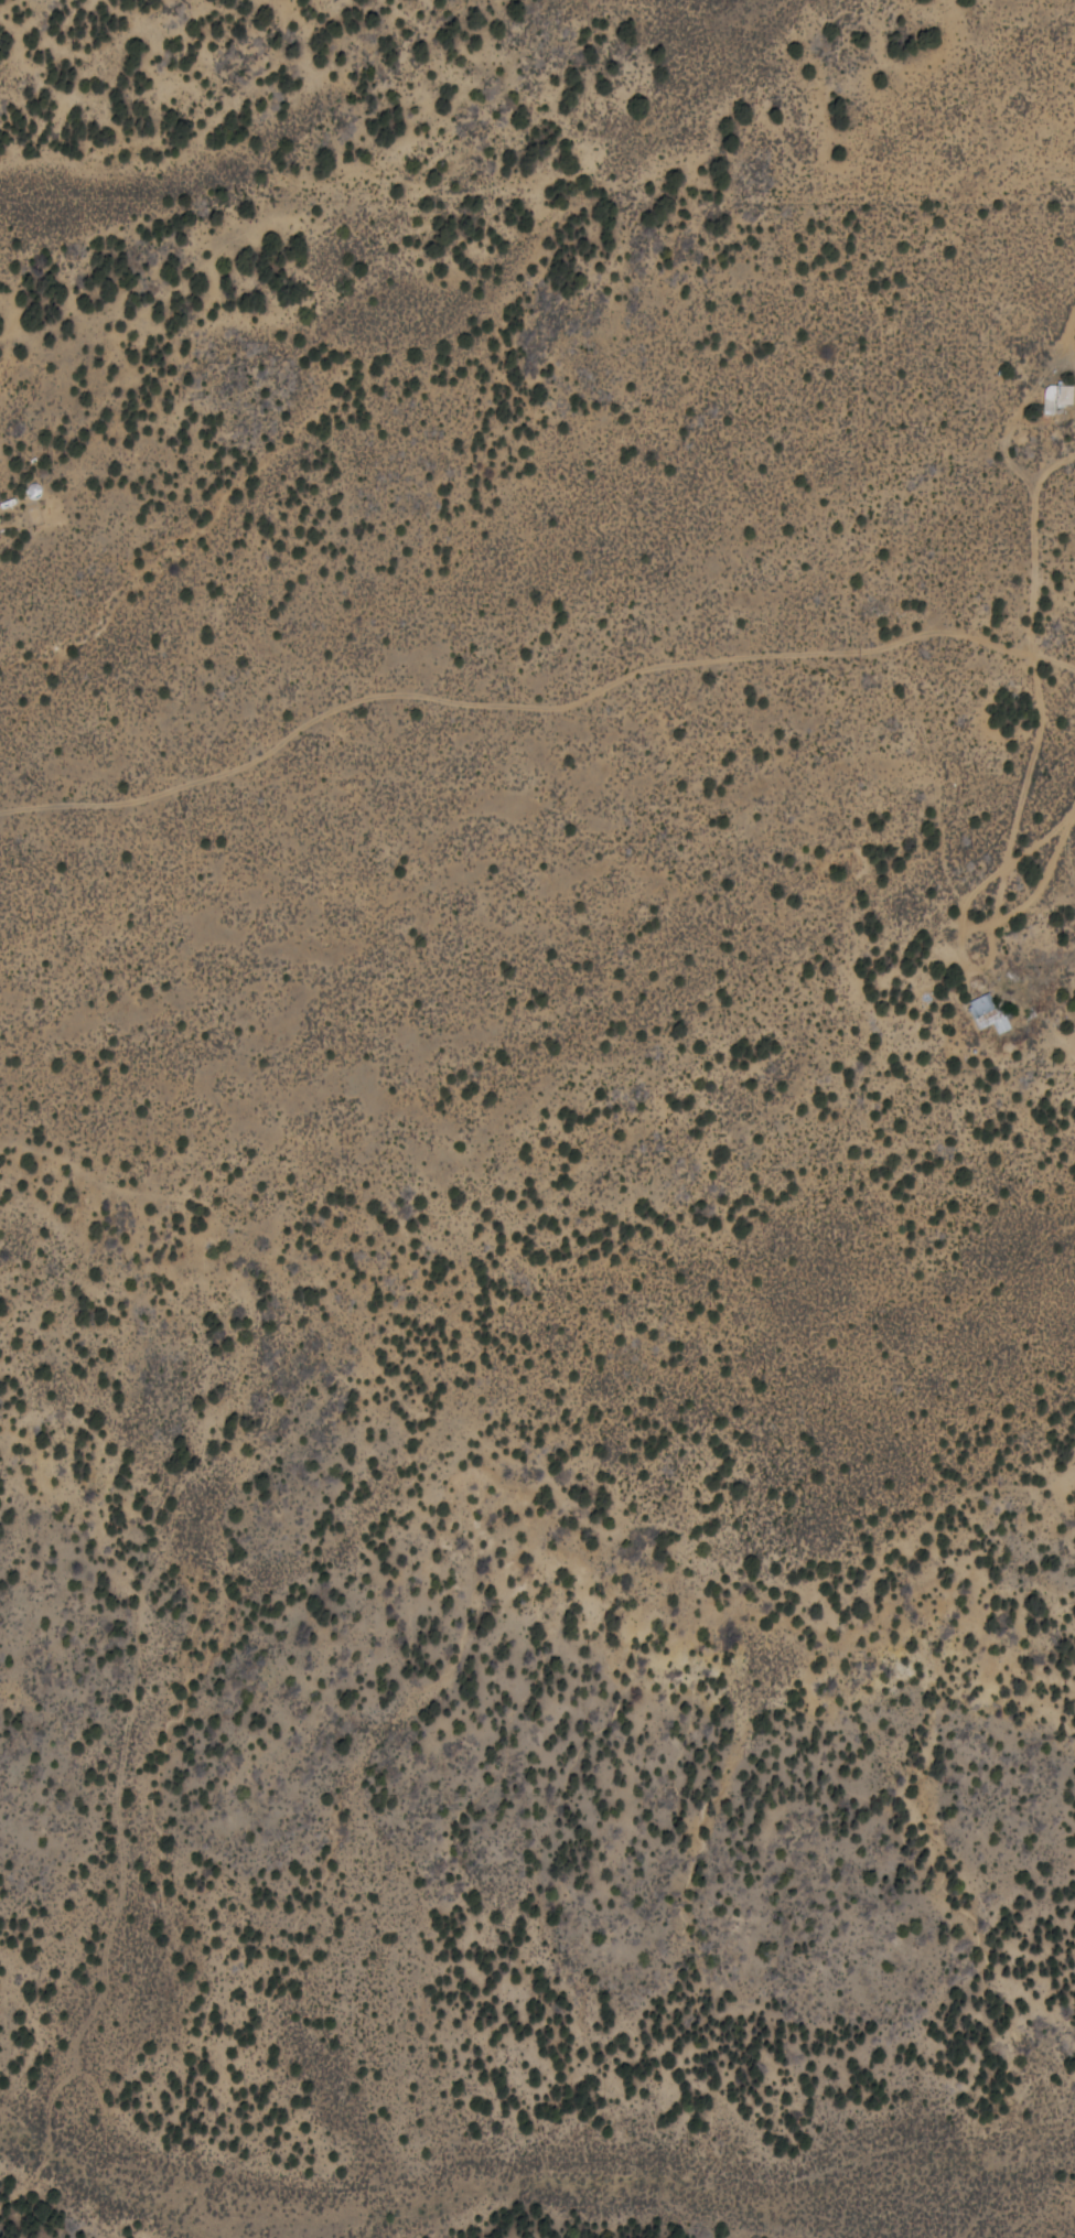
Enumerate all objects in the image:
building: (1055, 396)
building: (987, 1013)

